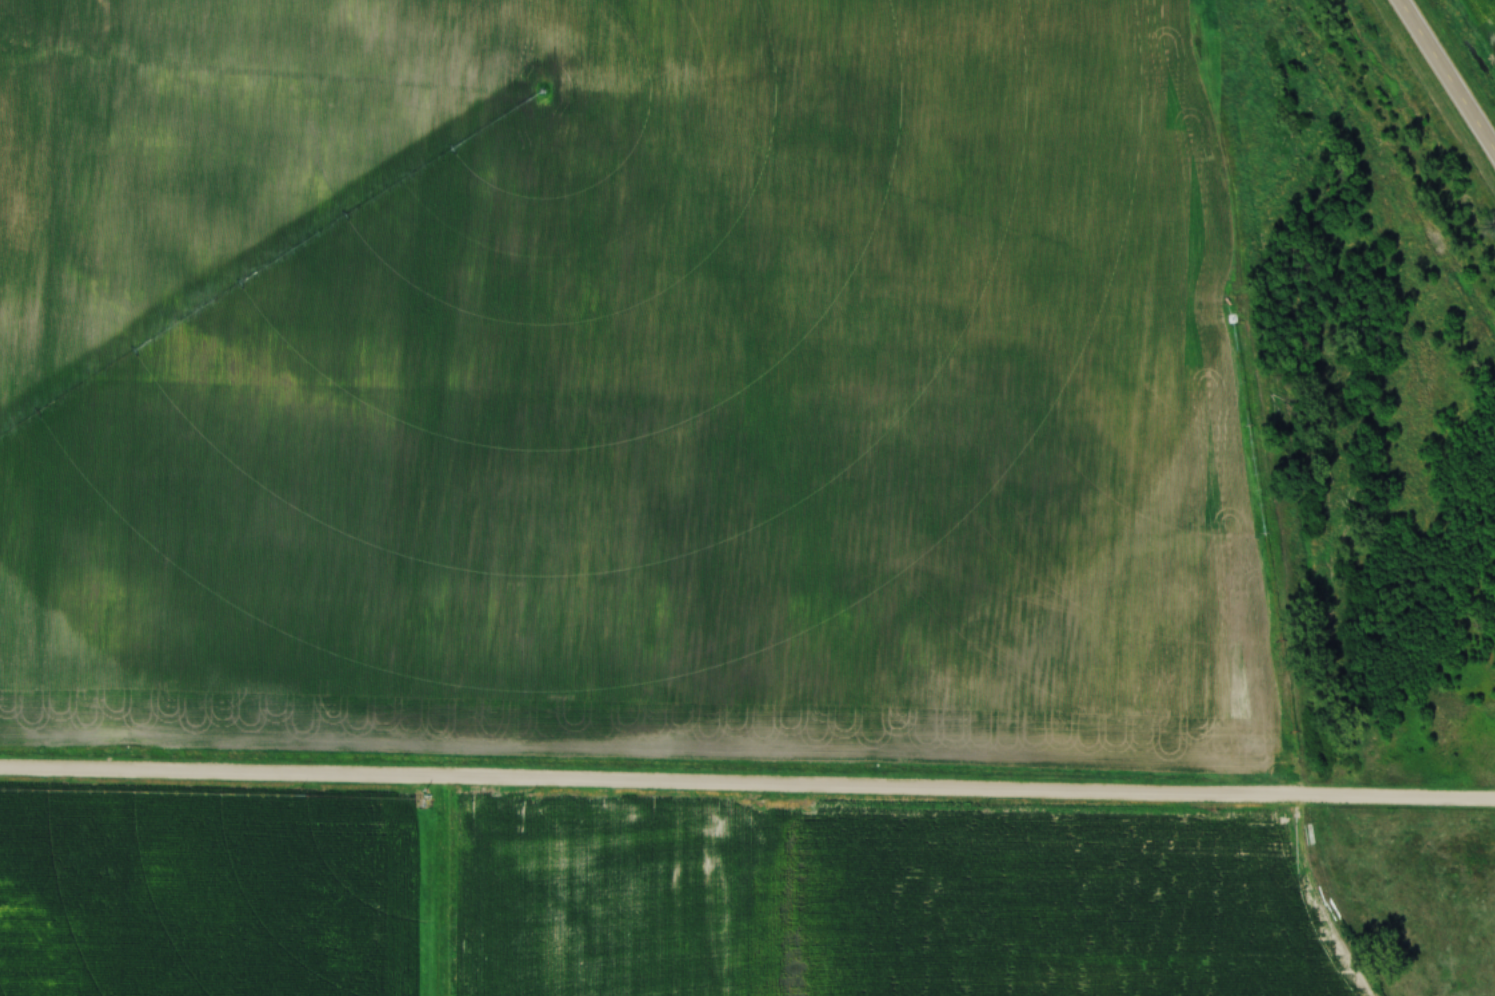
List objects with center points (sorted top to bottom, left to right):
road: (1445, 77)
road: (747, 786)

